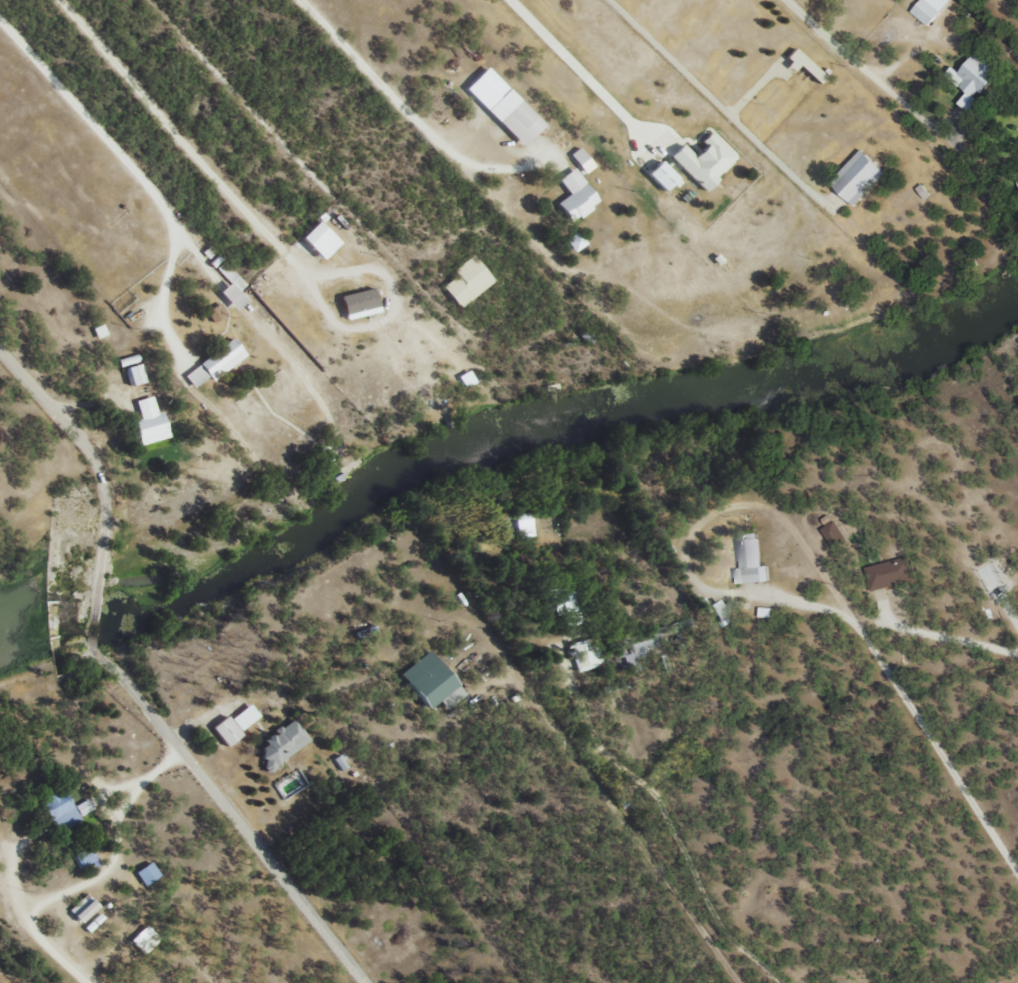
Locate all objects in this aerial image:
building: (926, 9)
building: (801, 64)
building: (969, 78)
building: (501, 105)
building: (580, 159)
building: (701, 160)
building: (661, 175)
building: (855, 178)
building: (1017, 181)
building: (921, 191)
building: (574, 195)
building: (316, 239)
building: (575, 240)
building: (464, 281)
building: (229, 285)
building: (356, 303)
building: (214, 311)
building: (98, 330)
building: (213, 362)
building: (133, 373)
building: (464, 378)
building: (147, 421)
road: (86, 448)
building: (524, 523)
building: (831, 532)
building: (750, 559)
building: (888, 573)
building: (719, 612)
road: (89, 623)
building: (640, 649)
building: (585, 653)
building: (427, 680)
building: (243, 716)
building: (224, 729)
building: (280, 742)
building: (63, 806)
road: (239, 821)
building: (146, 872)
building: (81, 907)
building: (143, 939)
road: (46, 945)
road: (632, 963)

